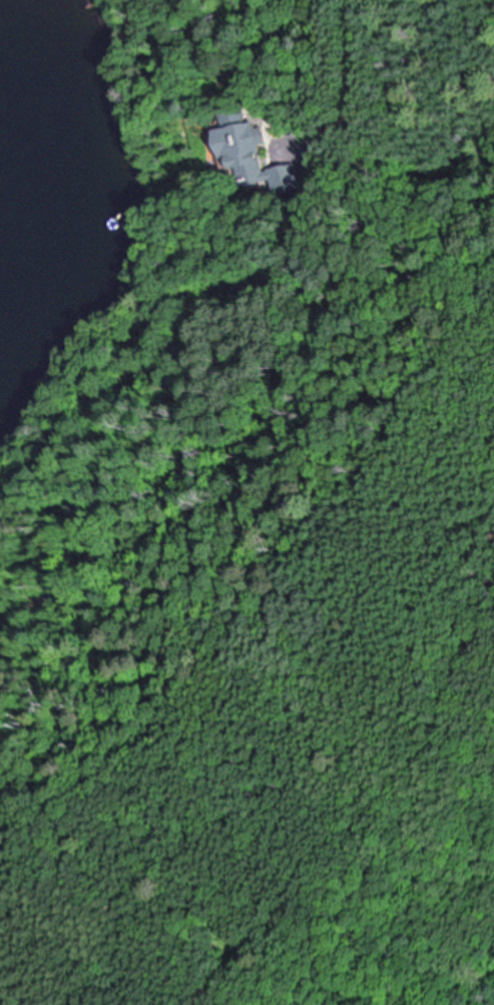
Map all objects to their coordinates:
road: (354, 91)
building: (287, 104)
building: (254, 149)
building: (312, 231)

